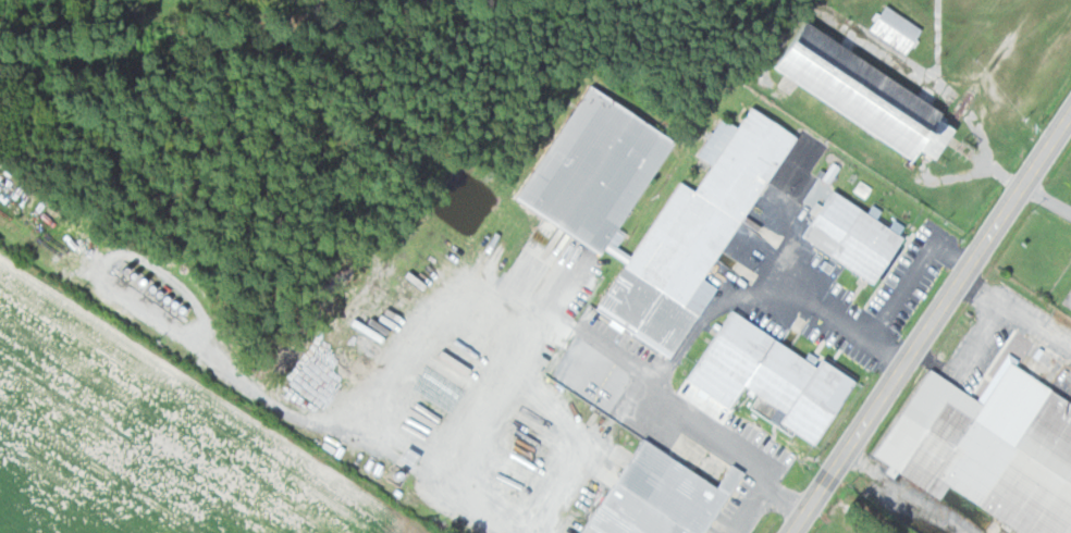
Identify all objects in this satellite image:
building: (867, 95)
building: (598, 170)
building: (697, 233)
building: (854, 237)
road: (930, 322)
building: (773, 375)
building: (990, 448)
building: (662, 496)

